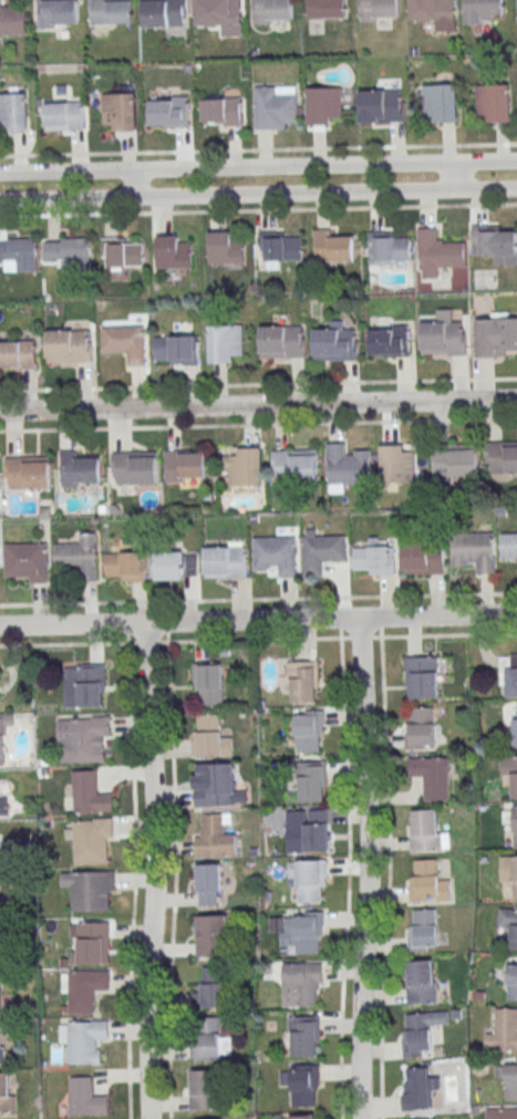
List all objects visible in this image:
building: (327, 9)
building: (379, 10)
building: (432, 10)
building: (60, 11)
building: (111, 11)
building: (271, 11)
building: (482, 11)
building: (165, 12)
building: (220, 15)
building: (12, 18)
building: (495, 101)
building: (442, 102)
building: (323, 104)
building: (276, 106)
building: (382, 106)
building: (121, 110)
building: (224, 111)
building: (14, 112)
building: (170, 112)
building: (65, 114)
road: (258, 149)
road: (258, 167)
road: (455, 176)
road: (131, 184)
road: (258, 194)
road: (258, 210)
building: (494, 244)
building: (333, 247)
building: (279, 248)
building: (390, 248)
building: (225, 249)
building: (71, 251)
building: (174, 251)
building: (21, 252)
building: (122, 252)
building: (436, 252)
building: (442, 334)
building: (496, 336)
building: (389, 341)
building: (124, 342)
building: (282, 342)
building: (225, 343)
building: (335, 344)
building: (69, 345)
building: (175, 350)
building: (18, 354)
road: (258, 384)
road: (258, 405)
road: (258, 425)
building: (502, 457)
building: (454, 463)
building: (397, 464)
building: (185, 465)
building: (296, 465)
building: (135, 467)
building: (244, 467)
building: (347, 467)
building: (80, 469)
building: (29, 472)
building: (508, 546)
building: (321, 552)
building: (276, 555)
building: (79, 557)
building: (424, 557)
building: (374, 558)
building: (28, 561)
building: (225, 562)
building: (123, 563)
building: (175, 564)
road: (258, 620)
road: (359, 636)
building: (508, 675)
building: (422, 677)
building: (304, 681)
building: (208, 684)
building: (84, 685)
building: (516, 709)
building: (420, 727)
building: (310, 731)
building: (515, 732)
building: (209, 737)
building: (82, 738)
building: (1, 746)
building: (510, 771)
building: (433, 776)
building: (311, 783)
building: (215, 786)
building: (90, 794)
building: (3, 807)
building: (514, 827)
building: (308, 830)
building: (427, 831)
building: (215, 837)
building: (90, 840)
road: (366, 869)
road: (153, 870)
road: (347, 872)
road: (386, 872)
building: (508, 873)
building: (308, 879)
building: (427, 882)
building: (208, 884)
building: (89, 890)
building: (2, 893)
building: (508, 924)
building: (424, 930)
building: (302, 932)
building: (211, 935)
building: (90, 942)
building: (420, 982)
building: (511, 982)
building: (302, 983)
building: (84, 990)
building: (211, 990)
building: (421, 1032)
building: (503, 1032)
building: (306, 1035)
building: (83, 1040)
building: (210, 1042)
building: (1, 1044)
building: (508, 1077)
building: (303, 1082)
building: (204, 1089)
building: (418, 1089)
building: (6, 1095)
building: (84, 1098)
building: (500, 1113)
building: (301, 1117)

